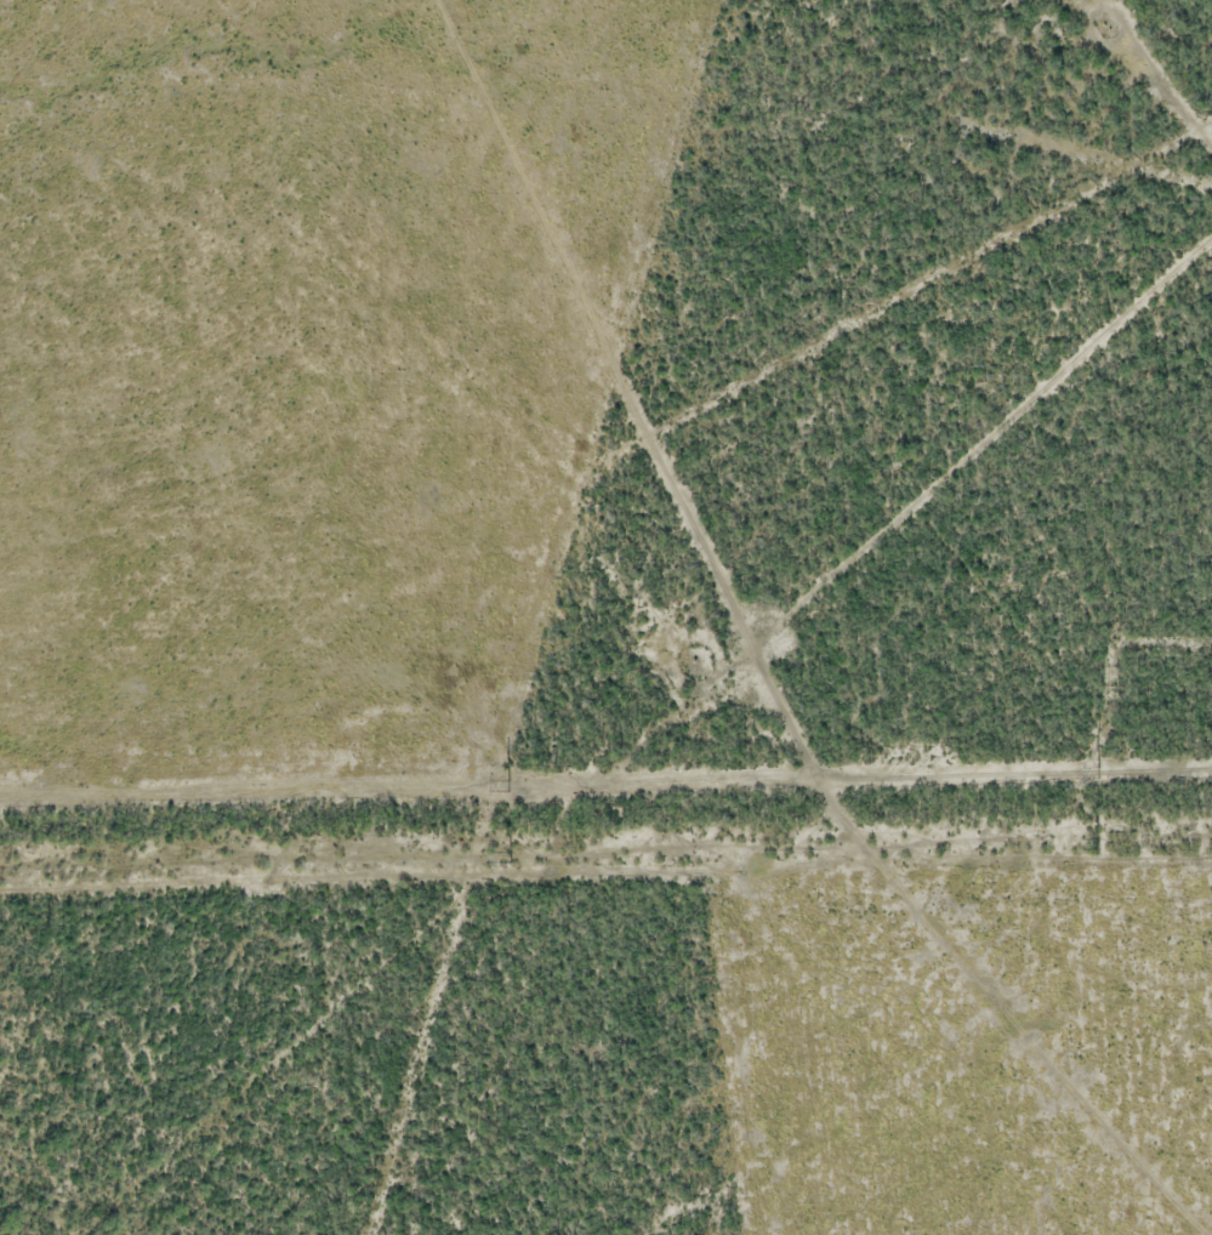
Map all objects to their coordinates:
power tower: (1098, 770)
power tower: (507, 784)
power tower: (1100, 847)
power tower: (513, 859)

